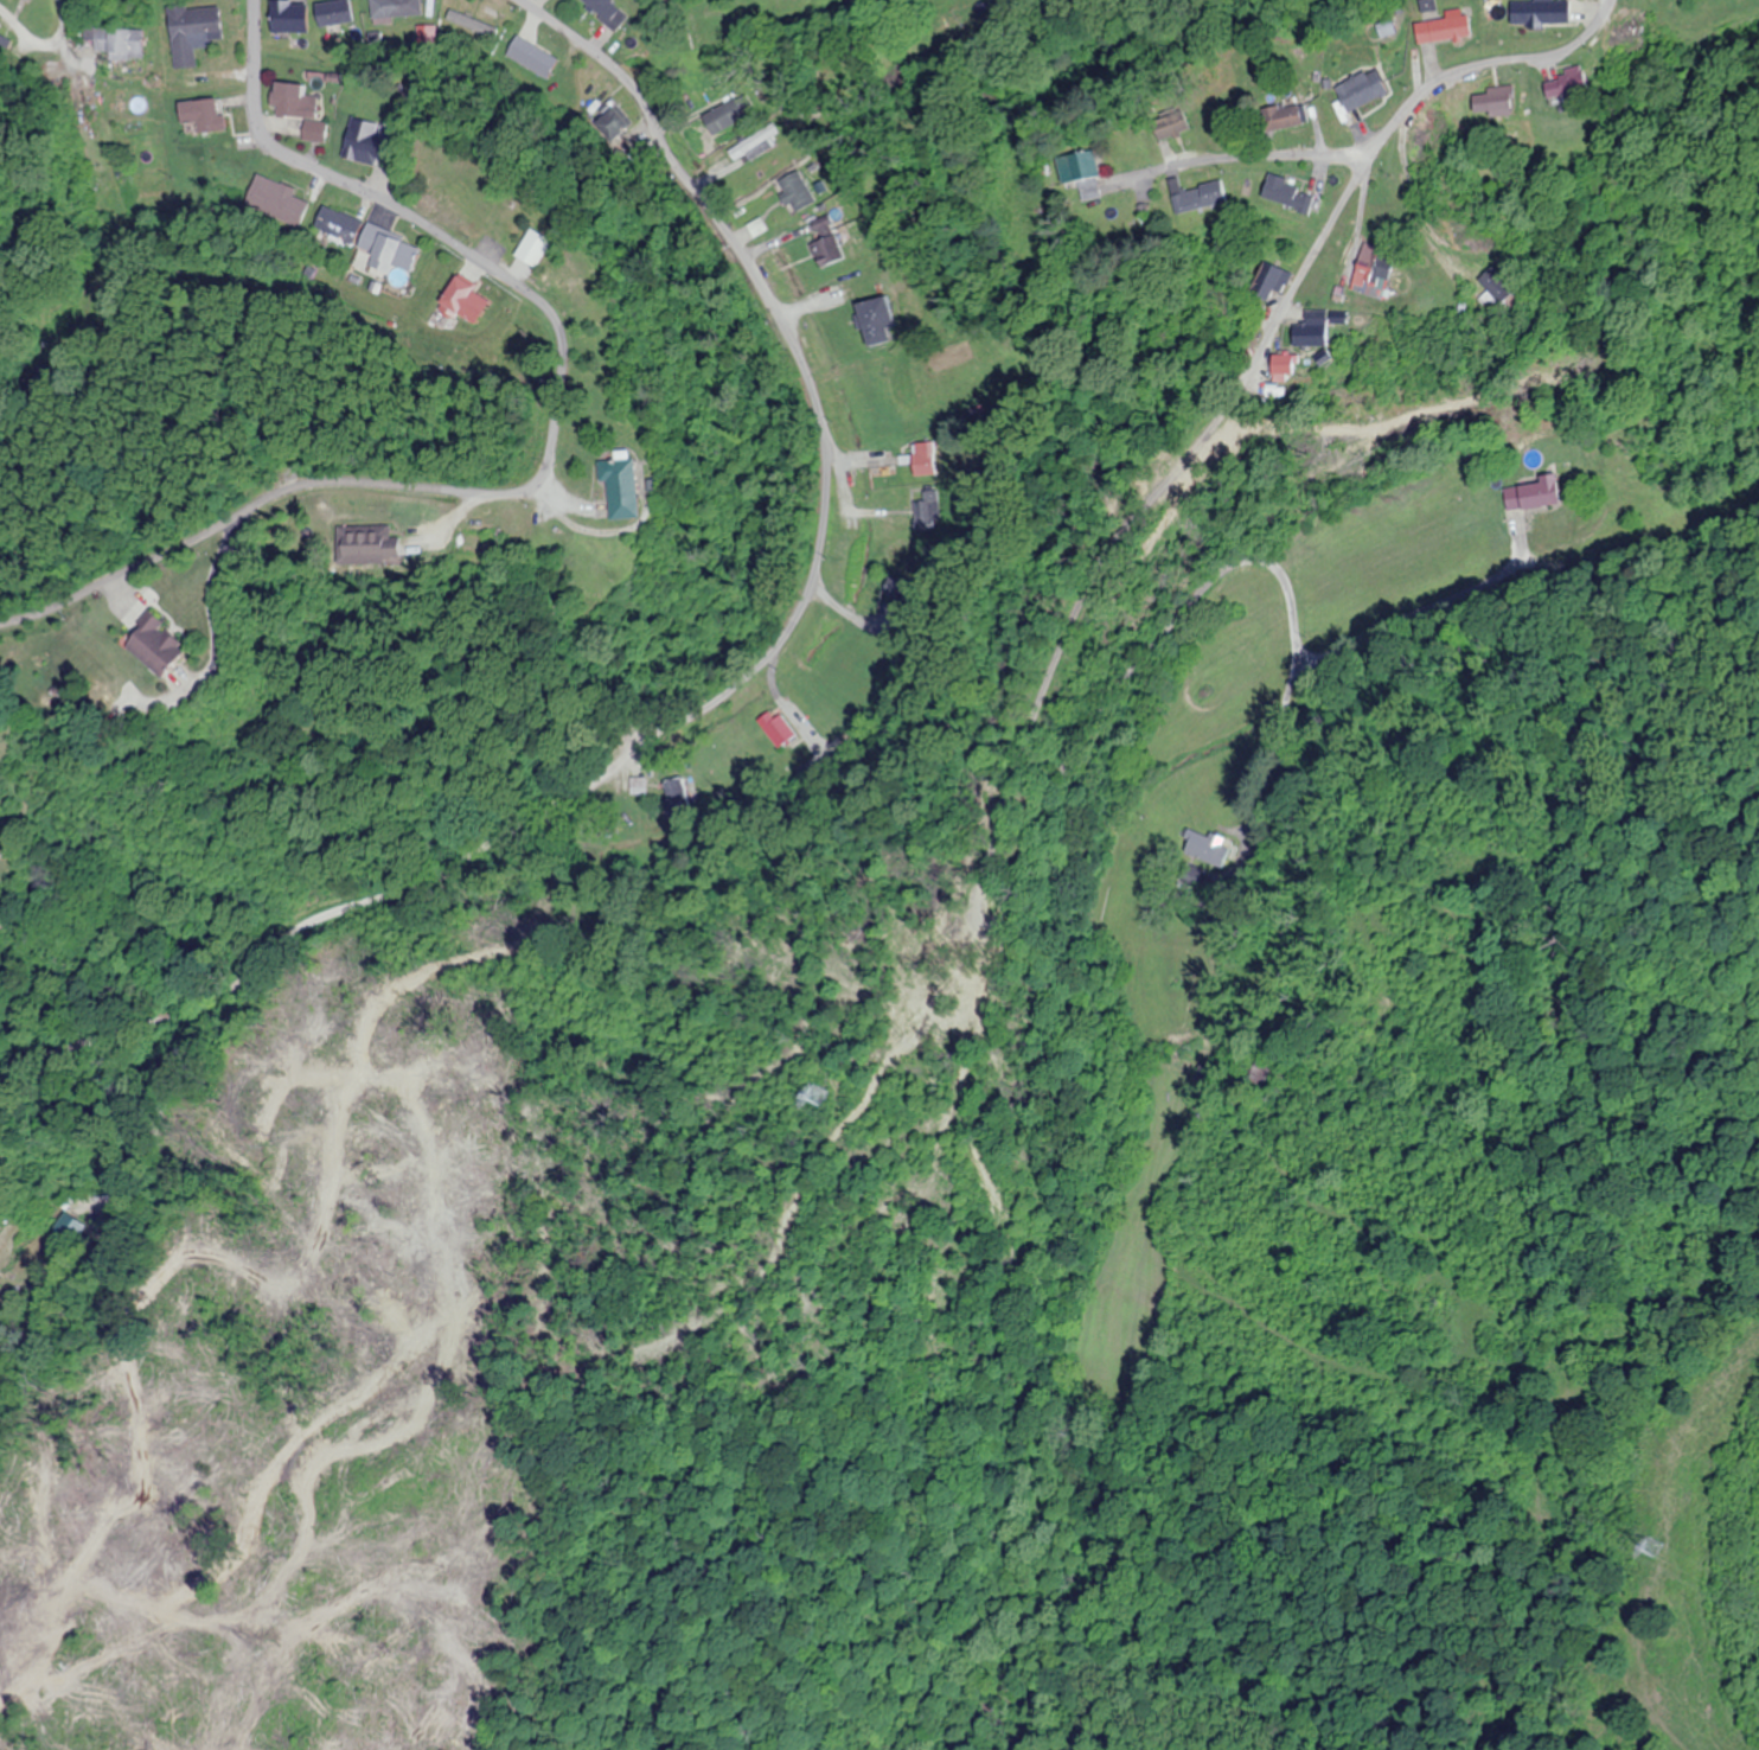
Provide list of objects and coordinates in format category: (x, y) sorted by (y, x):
road: (1387, 142)
road: (1258, 157)
road: (551, 446)
road: (725, 691)
road: (1018, 860)
power tower: (814, 1090)
power tower: (1651, 1543)

